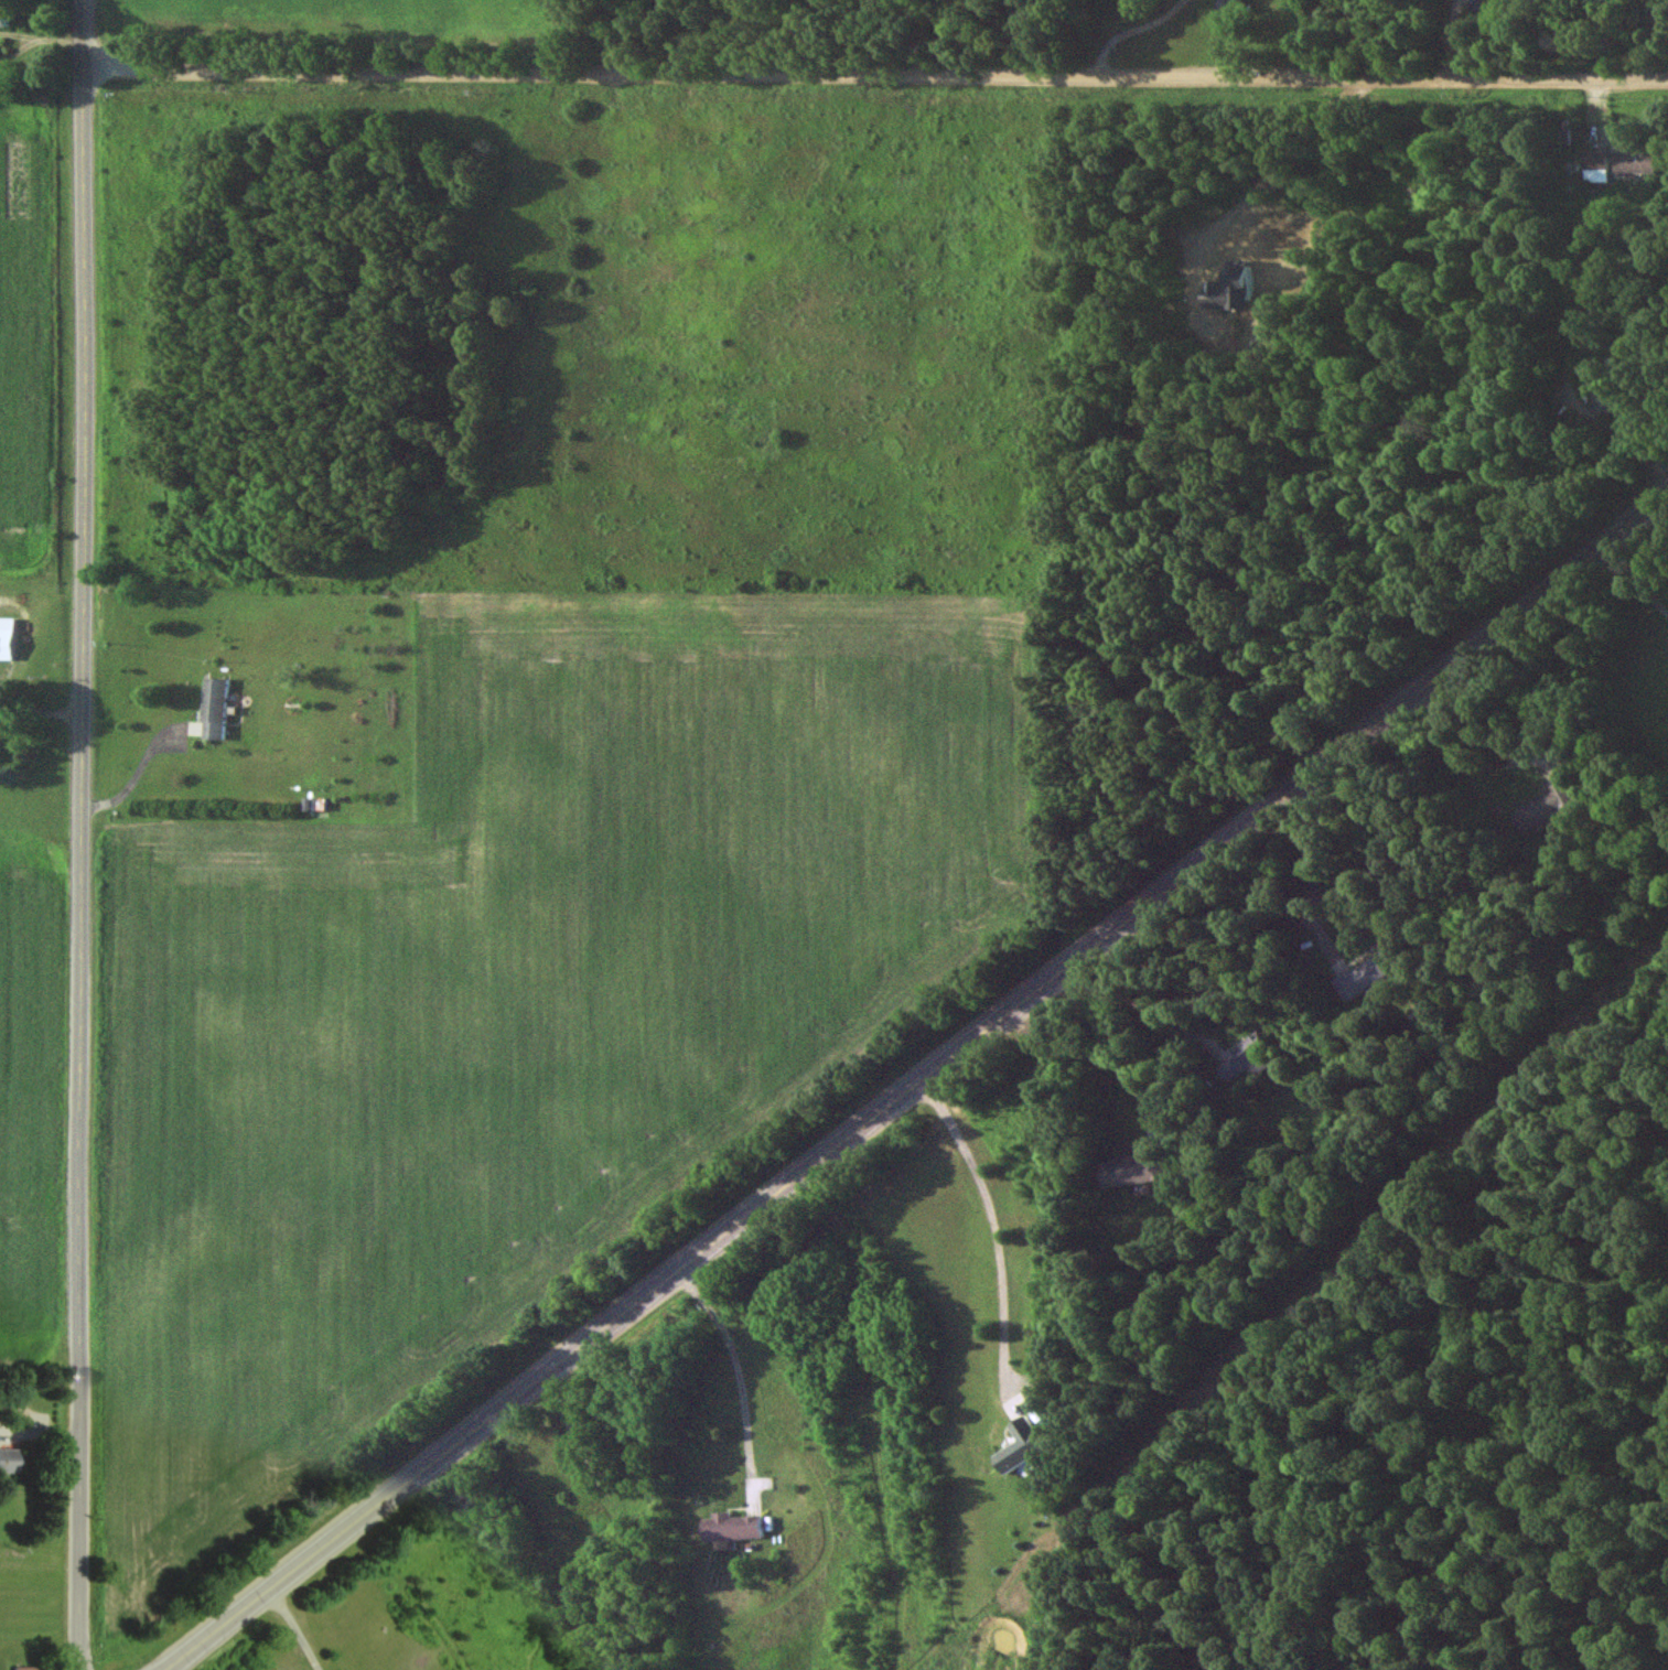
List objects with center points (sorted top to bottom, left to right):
building: (1527, 2)
building: (1227, 7)
building: (3, 15)
road: (875, 72)
building: (1617, 164)
building: (1603, 388)
road: (1632, 584)
building: (4, 639)
building: (212, 709)
road: (40, 717)
road: (1470, 761)
road: (134, 777)
building: (1545, 806)
road: (79, 834)
road: (1308, 879)
building: (1370, 972)
road: (1138, 1013)
road: (1094, 1049)
building: (1246, 1059)
road: (915, 1079)
building: (1128, 1174)
road: (991, 1232)
road: (736, 1375)
building: (1020, 1447)
building: (4, 1461)
building: (733, 1529)
road: (294, 1627)
building: (19, 1668)

